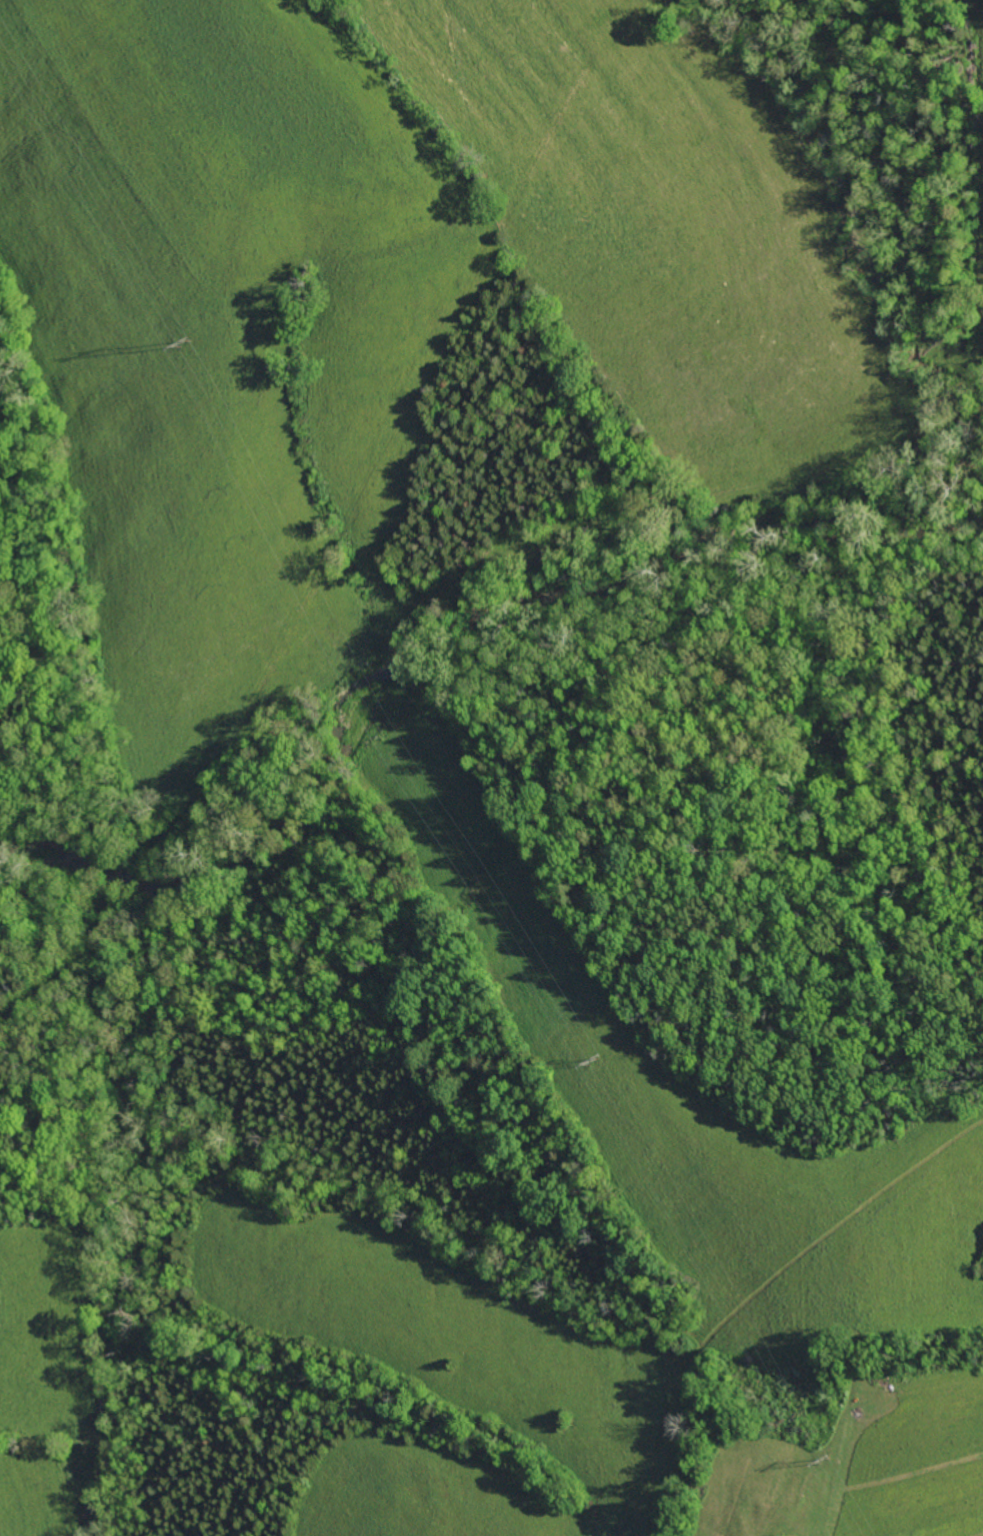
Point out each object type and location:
power tower: (181, 339)
power tower: (598, 1058)
power tower: (827, 1455)
building: (780, 1535)

